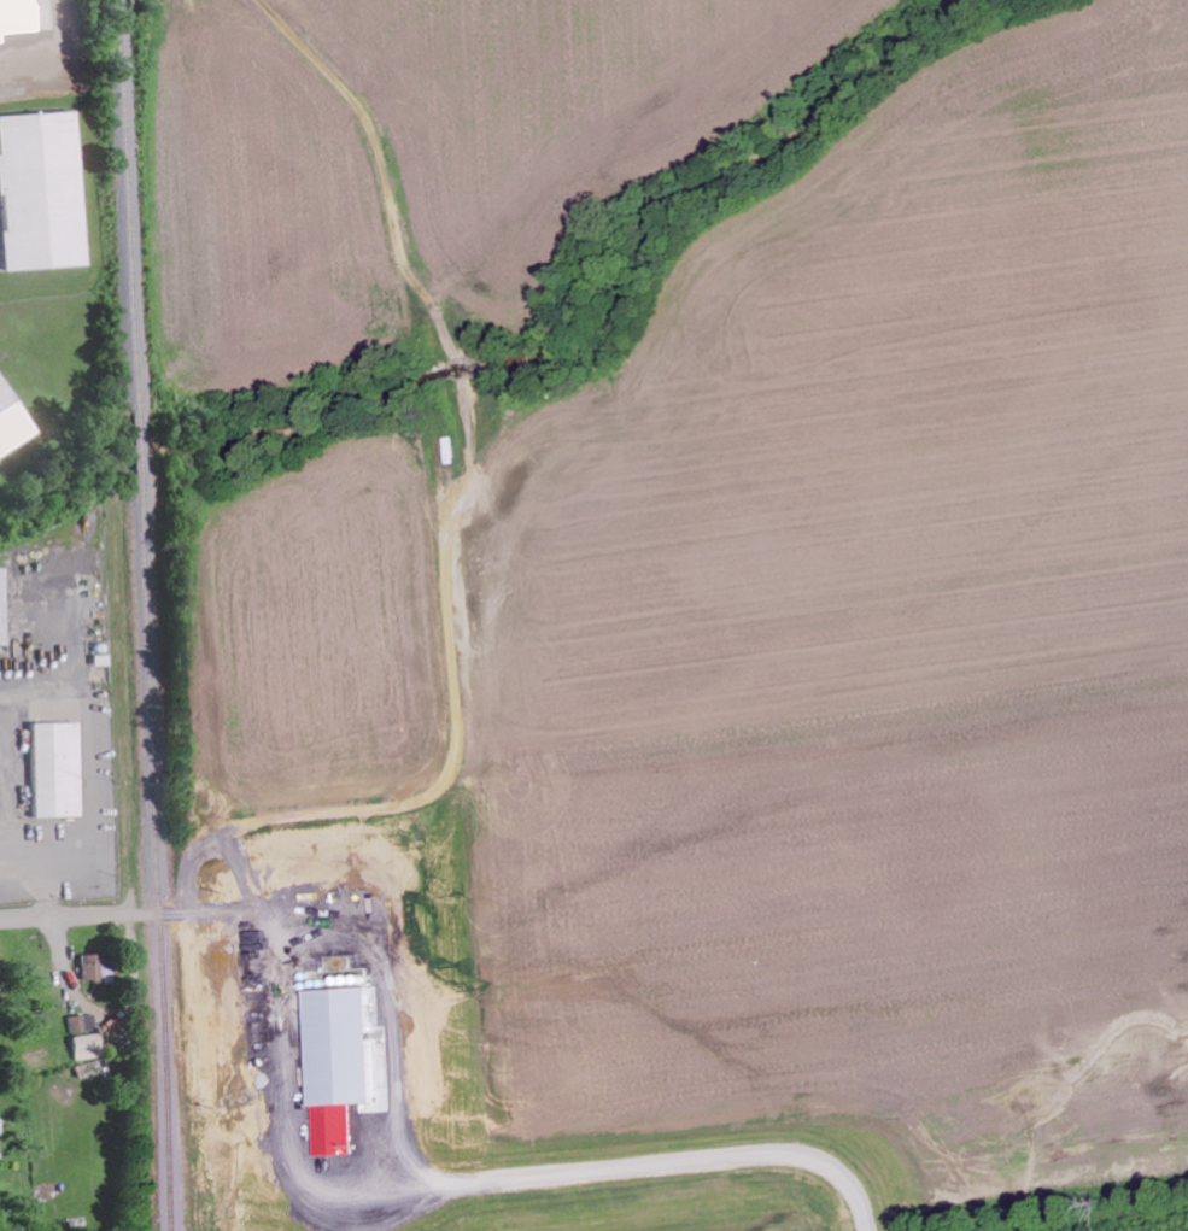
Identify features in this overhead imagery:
railway: (130, 205)
building: (1, 381)
railway: (141, 441)
building: (58, 770)
road: (209, 834)
railway: (158, 850)
road: (25, 916)
building: (92, 967)
building: (86, 1038)
building: (0, 1129)
building: (339, 1131)

